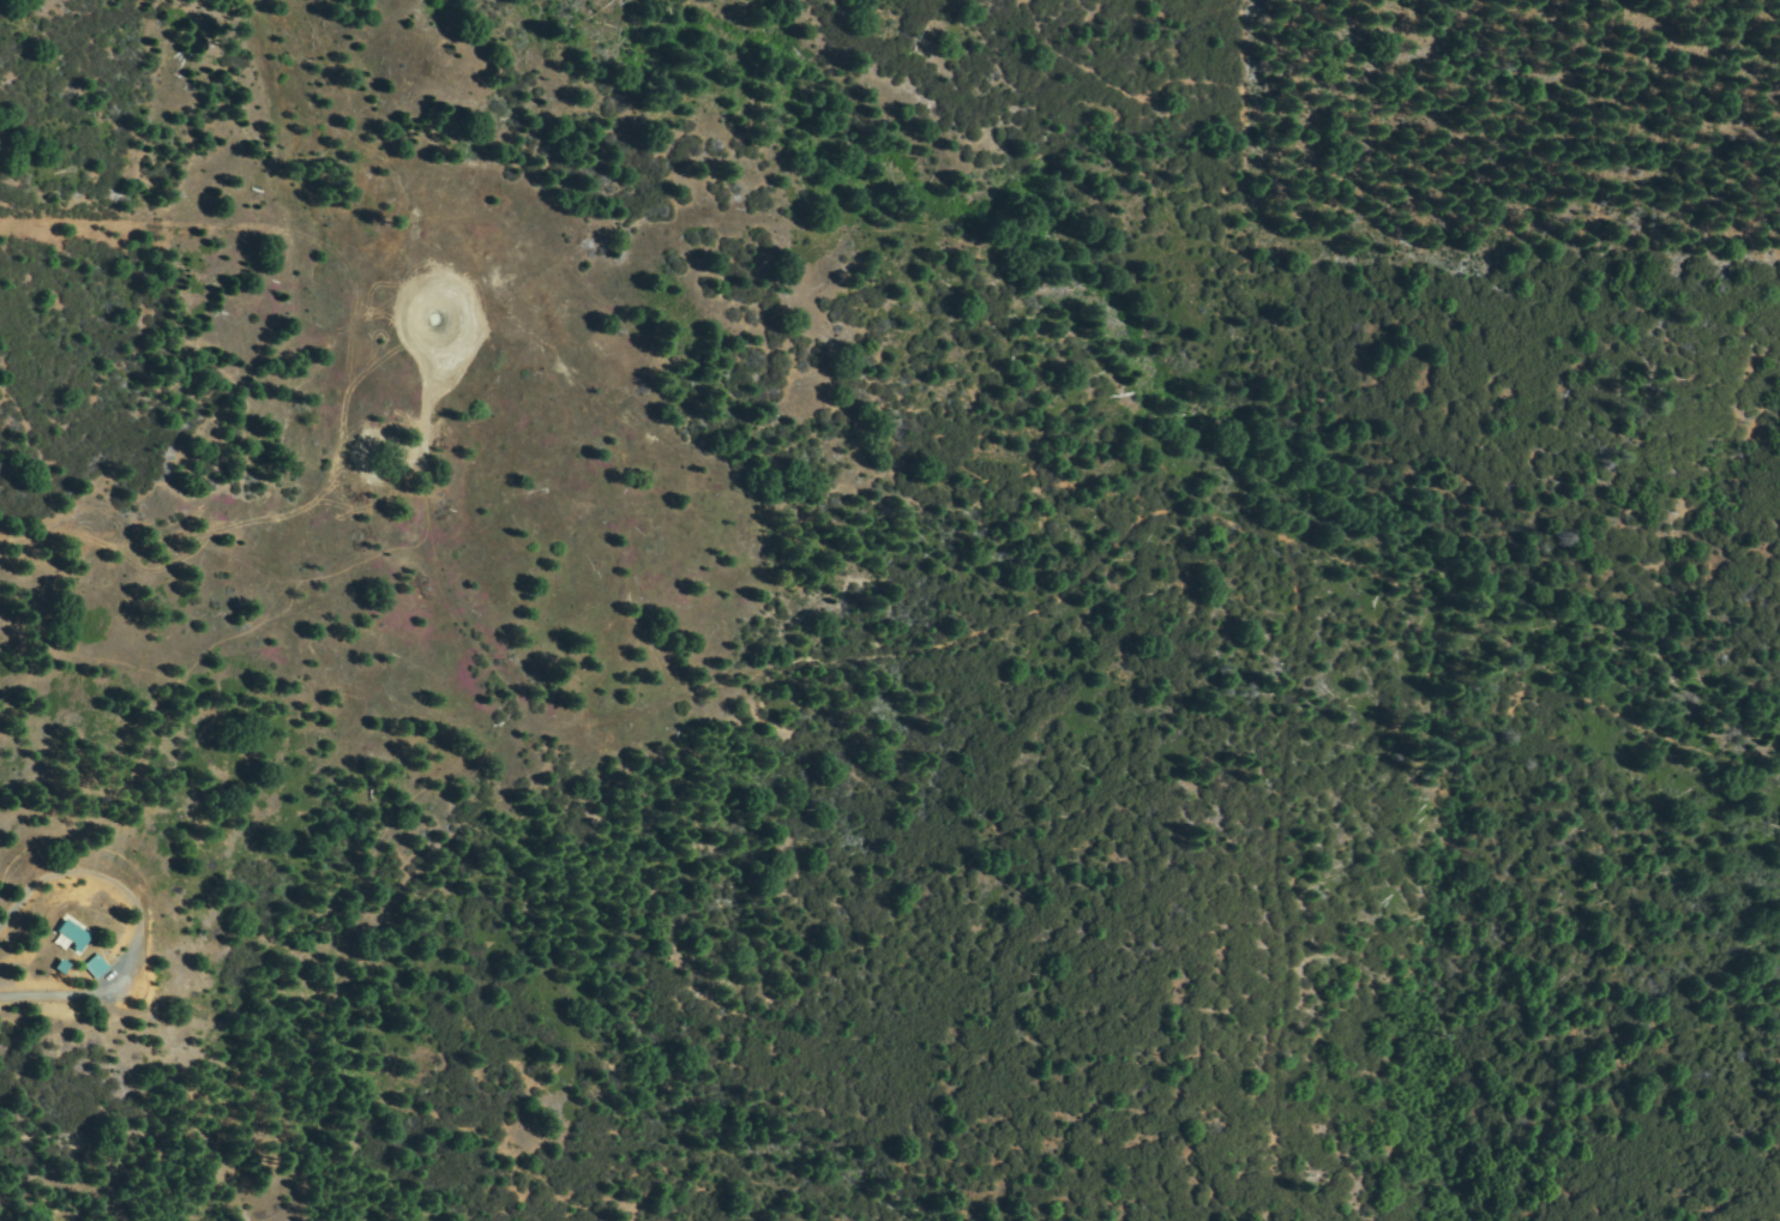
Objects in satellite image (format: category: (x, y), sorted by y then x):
building: (74, 934)
building: (97, 967)

